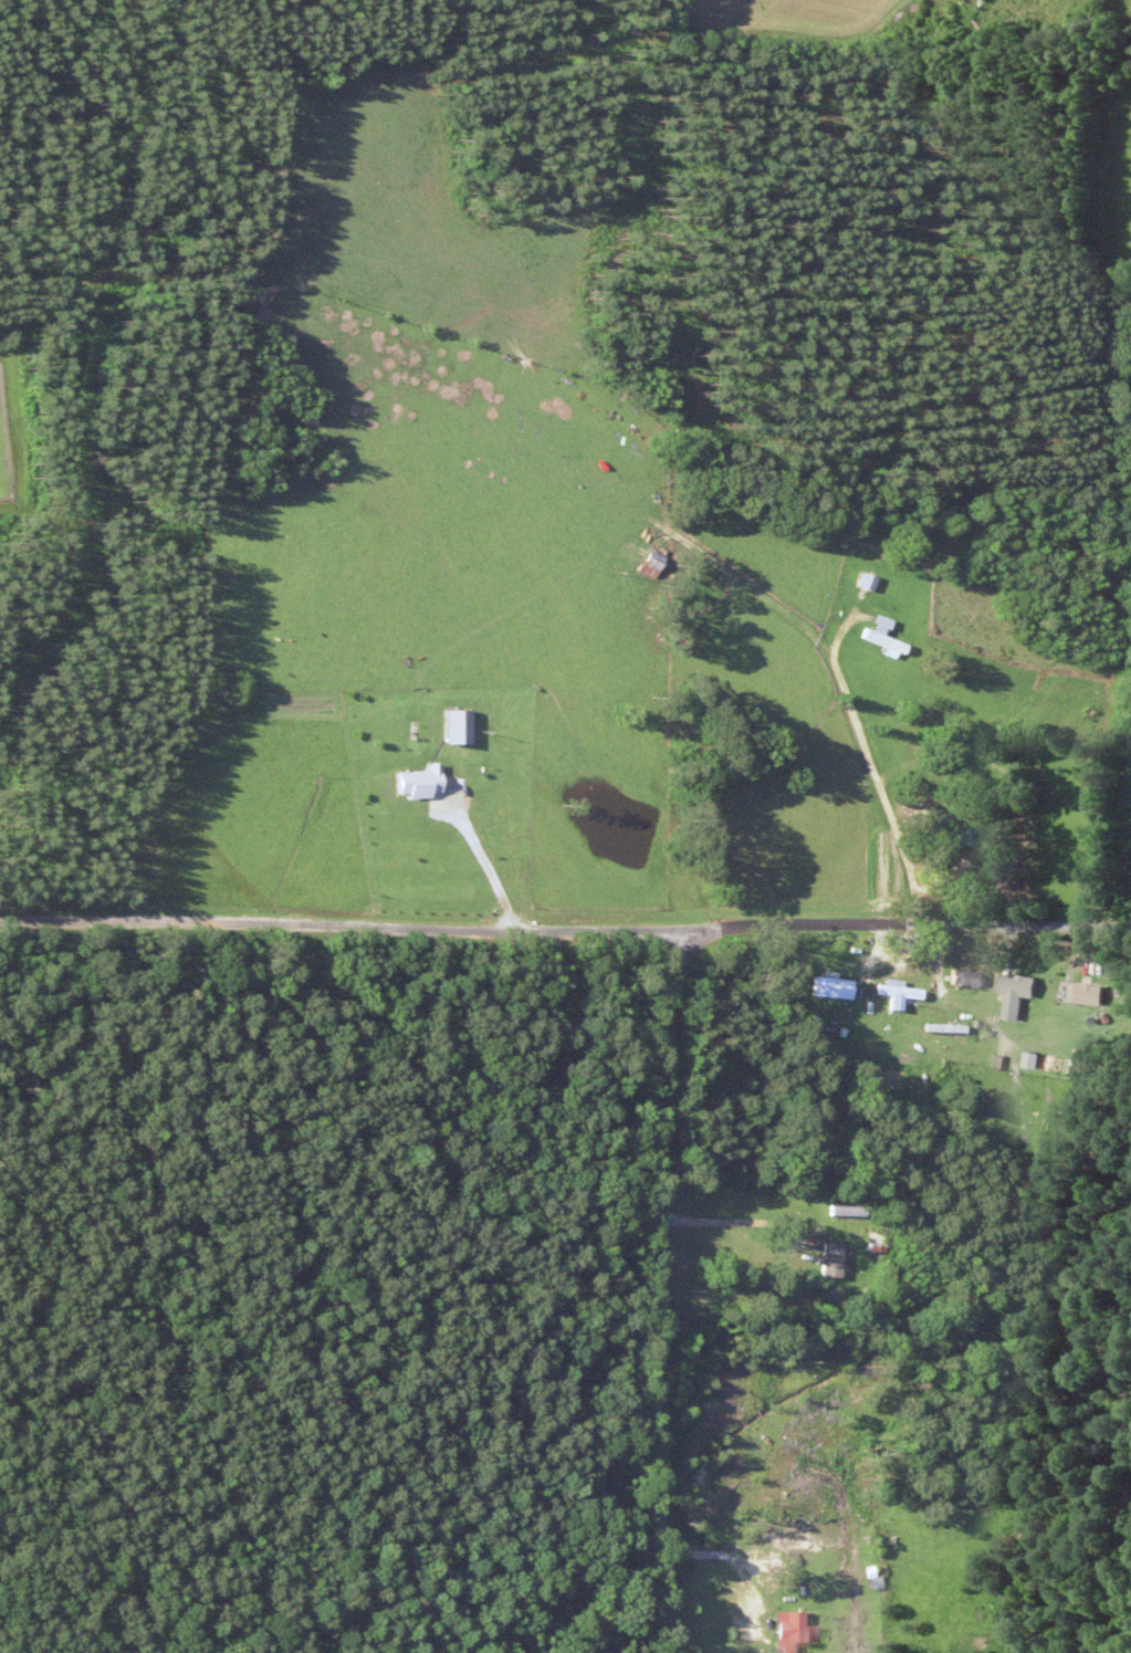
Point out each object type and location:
building: (649, 559)
building: (865, 580)
building: (880, 635)
road: (815, 674)
building: (417, 782)
building: (947, 833)
road: (891, 952)
road: (325, 956)
building: (966, 977)
building: (827, 987)
building: (1018, 993)
building: (1092, 994)
building: (883, 1078)
building: (977, 1140)
building: (871, 1243)
building: (825, 1260)
road: (661, 1304)
building: (792, 1632)

